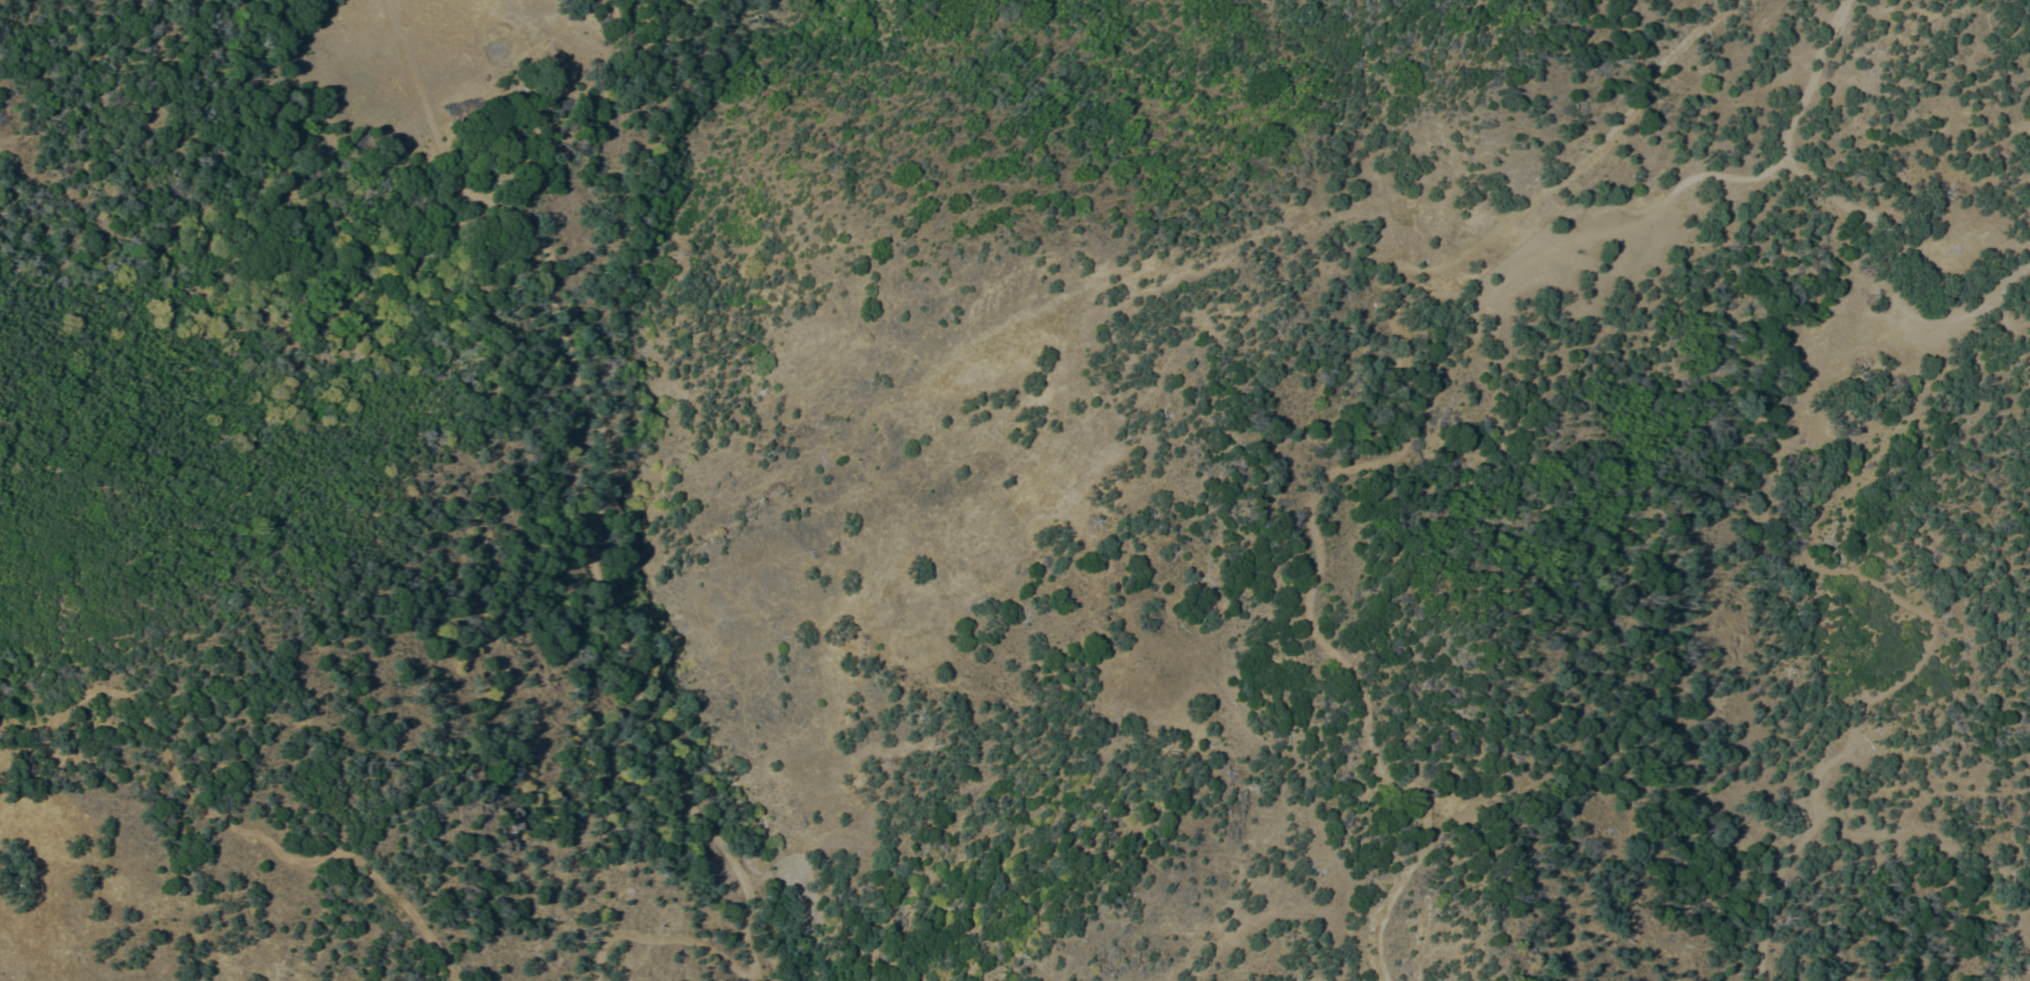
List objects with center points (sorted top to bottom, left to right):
road: (1813, 79)
road: (1585, 156)
road: (1564, 244)
road: (1896, 295)
road: (1325, 637)
road: (1850, 736)
road: (229, 827)
road: (2023, 881)
road: (1777, 891)
road: (2006, 933)

